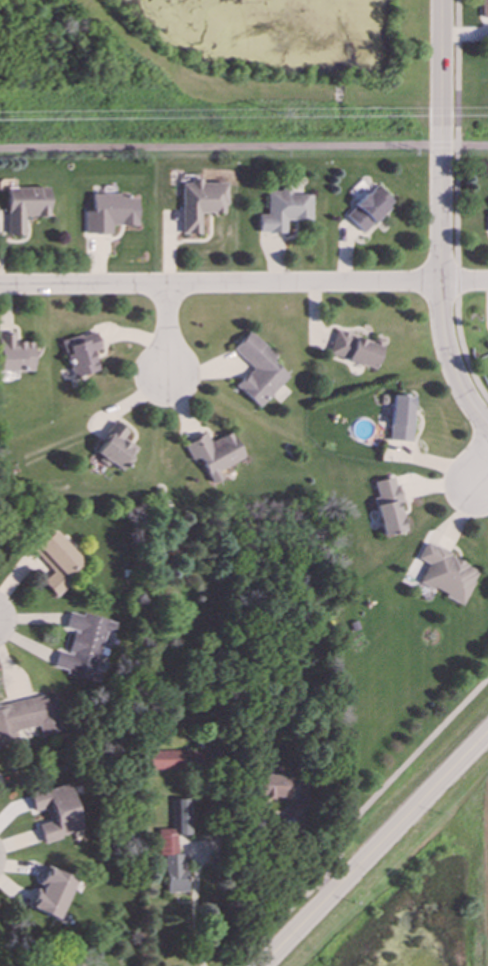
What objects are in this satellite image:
building: (484, 8)
power tower: (294, 114)
road: (441, 141)
road: (243, 147)
building: (200, 203)
road: (456, 203)
building: (24, 207)
building: (368, 208)
building: (283, 210)
building: (110, 213)
road: (243, 282)
road: (169, 328)
building: (354, 350)
building: (14, 354)
building: (82, 354)
road: (449, 358)
building: (258, 370)
building: (401, 418)
building: (113, 450)
building: (214, 454)
road: (482, 481)
building: (387, 506)
building: (56, 561)
building: (445, 574)
building: (83, 645)
building: (28, 718)
building: (178, 760)
building: (274, 787)
building: (56, 812)
road: (354, 817)
building: (175, 846)
road: (301, 849)
road: (375, 852)
building: (52, 893)
road: (195, 904)

